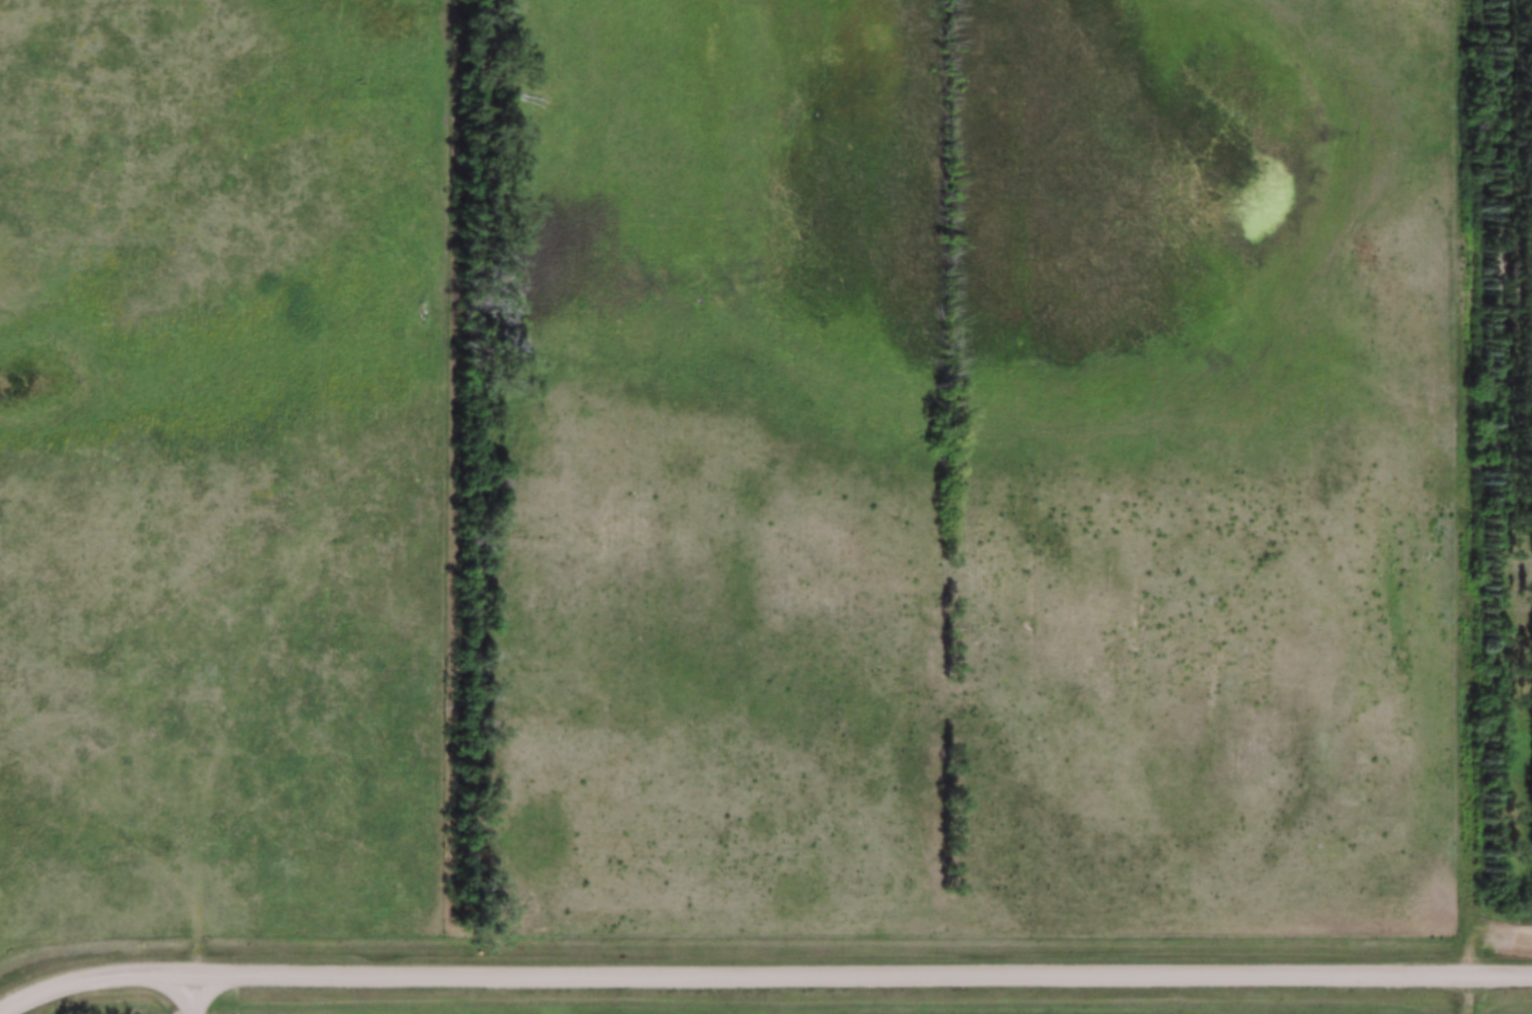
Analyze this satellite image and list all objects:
road: (314, 480)
road: (1444, 491)
road: (95, 802)
road: (93, 971)
road: (862, 971)
road: (1466, 990)
road: (192, 992)

